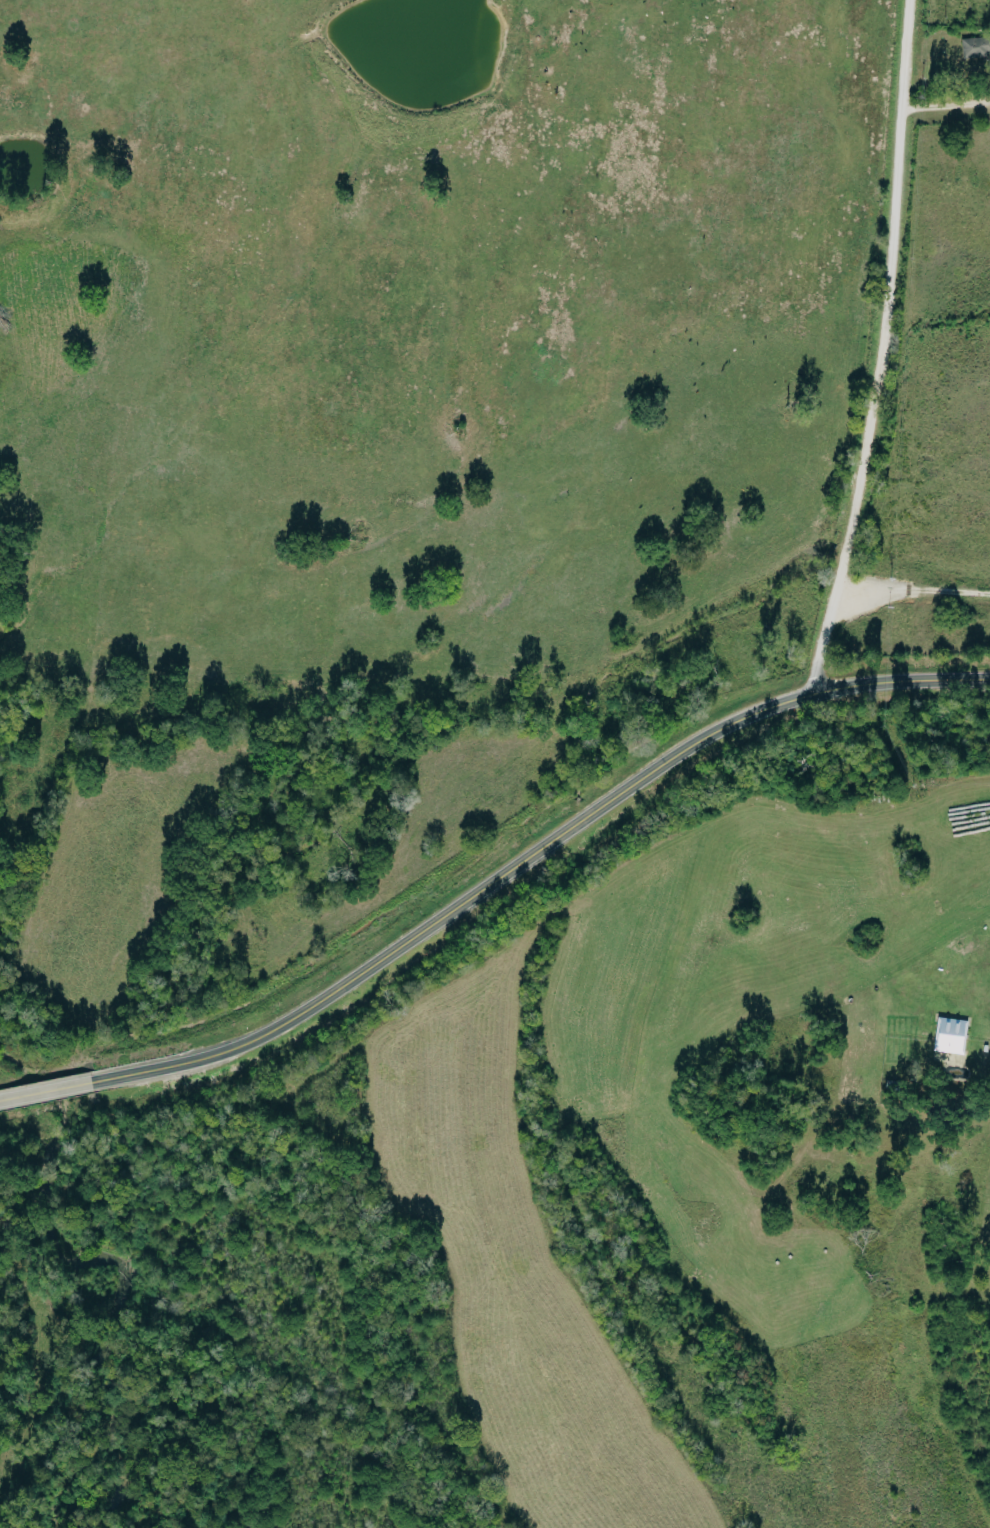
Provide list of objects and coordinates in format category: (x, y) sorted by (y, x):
building: (977, 47)
road: (946, 105)
road: (880, 349)
road: (532, 855)
building: (952, 1036)
road: (44, 1091)

